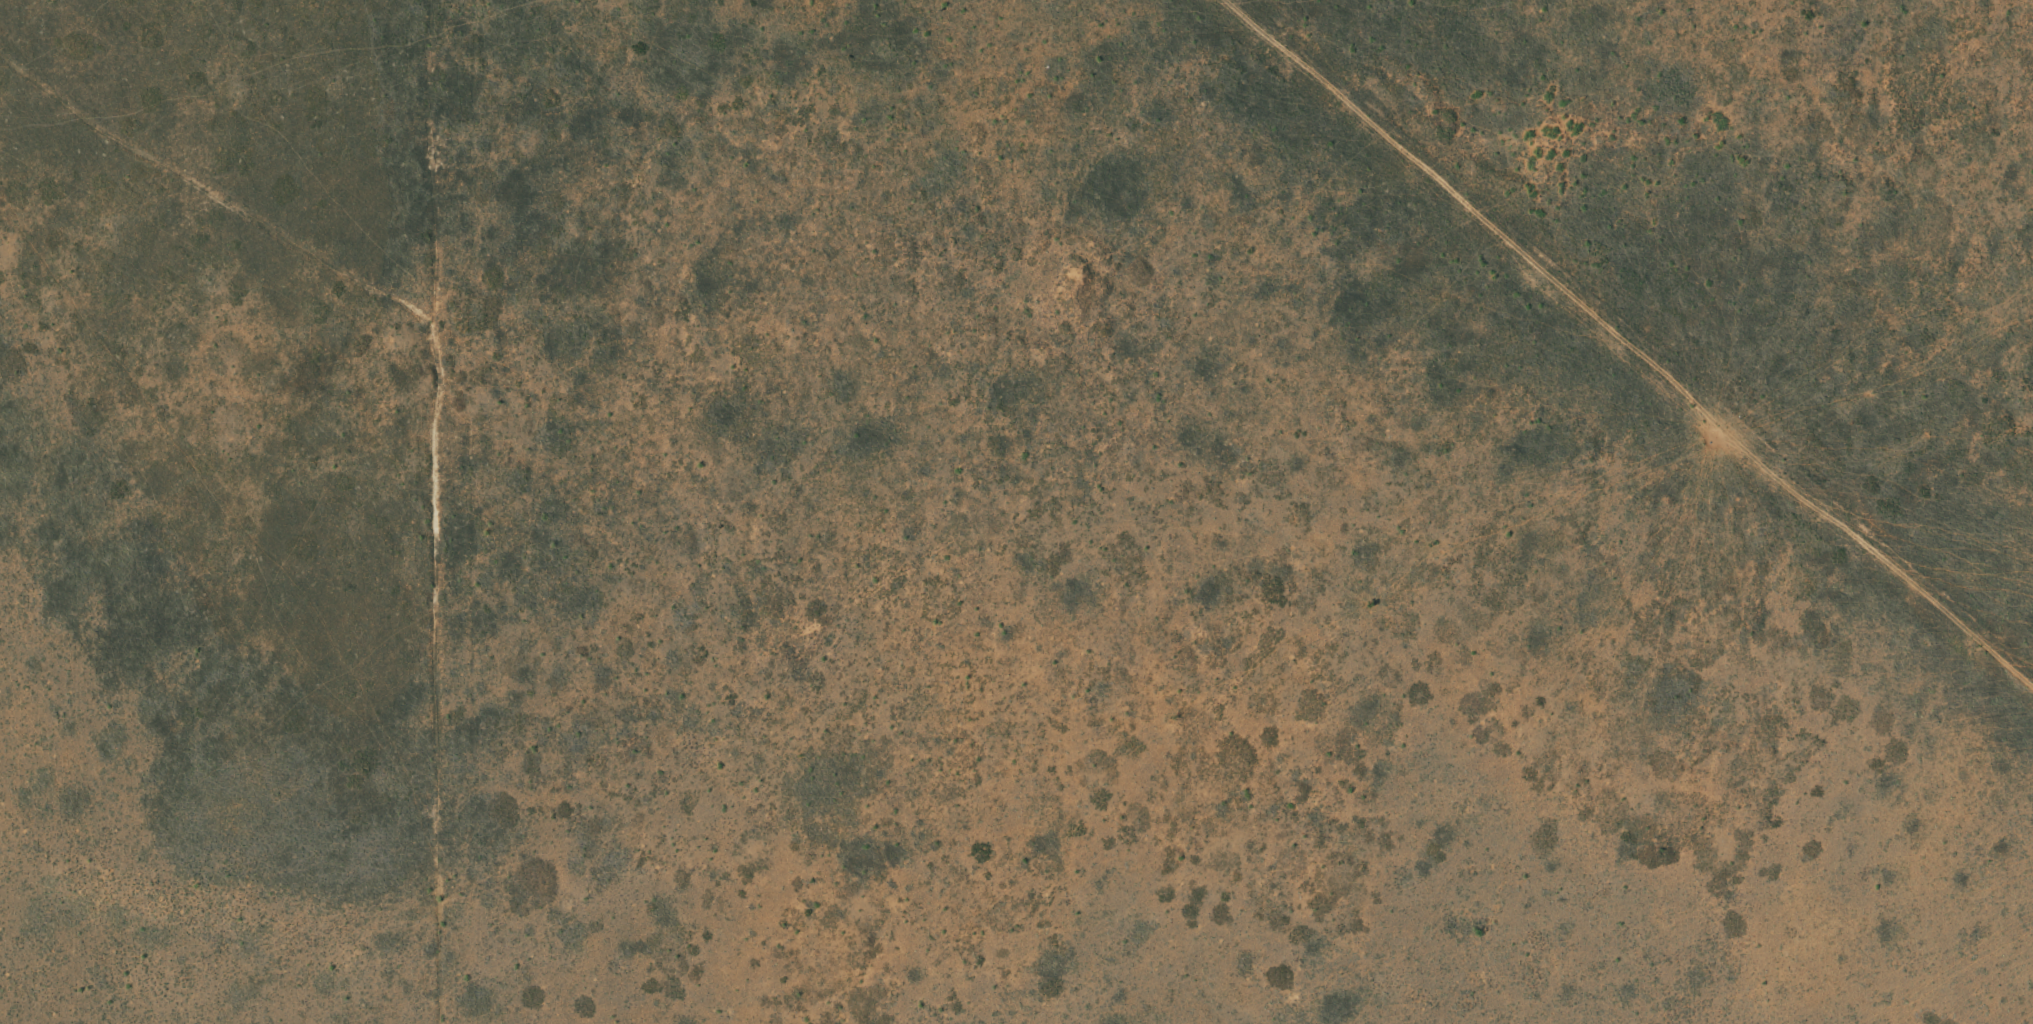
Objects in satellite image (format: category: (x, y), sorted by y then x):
road: (444, 398)

